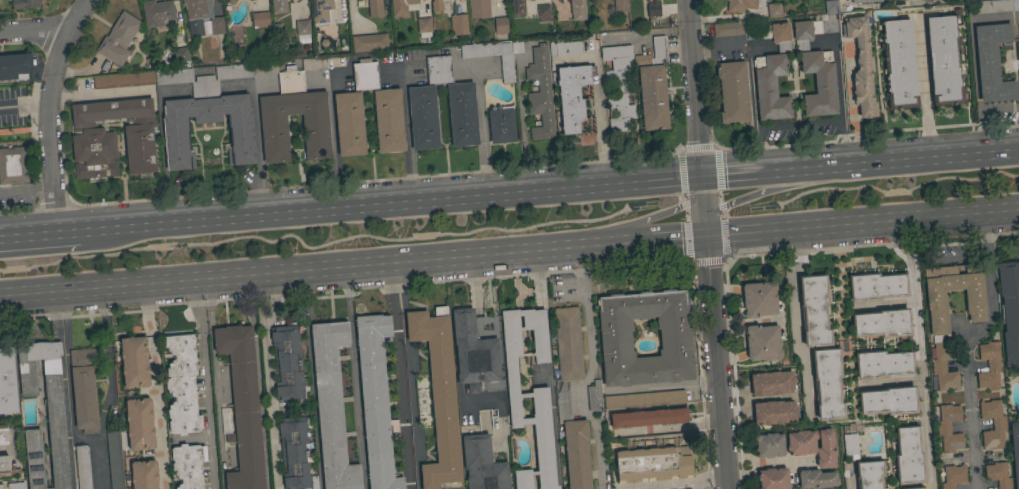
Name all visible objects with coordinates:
building: (234, 0)
building: (557, 0)
road: (922, 0)
building: (229, 1)
building: (863, 1)
building: (25, 4)
building: (437, 5)
building: (742, 5)
building: (278, 6)
building: (620, 6)
building: (992, 6)
building: (373, 7)
building: (401, 7)
building: (517, 7)
building: (197, 9)
building: (479, 9)
building: (653, 9)
building: (320, 10)
building: (578, 10)
building: (774, 10)
building: (543, 12)
building: (156, 13)
building: (259, 19)
building: (216, 25)
building: (458, 25)
building: (1018, 25)
building: (500, 26)
building: (424, 27)
building: (196, 28)
road: (33, 29)
building: (728, 29)
building: (302, 31)
building: (118, 35)
building: (369, 43)
building: (564, 48)
building: (181, 55)
building: (944, 60)
building: (818, 62)
building: (992, 63)
building: (899, 64)
building: (14, 66)
building: (861, 66)
building: (264, 68)
building: (507, 71)
building: (771, 72)
building: (365, 75)
building: (1018, 76)
building: (204, 78)
building: (122, 80)
building: (618, 86)
building: (653, 86)
road: (695, 89)
road: (924, 91)
building: (733, 92)
building: (540, 93)
building: (572, 96)
building: (292, 105)
road: (839, 105)
road: (23, 106)
road: (999, 109)
road: (47, 110)
road: (598, 113)
building: (462, 116)
road: (520, 119)
building: (388, 121)
building: (349, 124)
building: (501, 125)
road: (406, 133)
road: (982, 135)
building: (112, 138)
building: (175, 138)
road: (334, 140)
road: (258, 148)
road: (162, 156)
building: (13, 165)
road: (860, 168)
traffic signals: (701, 179)
road: (748, 197)
road: (389, 204)
road: (703, 212)
road: (635, 223)
road: (862, 230)
road: (38, 231)
traffic signals: (706, 245)
road: (939, 257)
road: (352, 270)
building: (876, 287)
building: (974, 299)
building: (759, 300)
road: (209, 305)
building: (814, 310)
building: (1009, 310)
road: (795, 317)
building: (882, 324)
building: (675, 340)
building: (763, 343)
road: (966, 348)
building: (473, 352)
road: (918, 353)
building: (134, 362)
building: (288, 363)
building: (882, 364)
road: (716, 366)
road: (587, 370)
building: (944, 372)
road: (548, 373)
building: (990, 374)
road: (408, 377)
road: (354, 380)
building: (7, 382)
building: (770, 383)
building: (827, 384)
building: (181, 385)
road: (204, 385)
road: (664, 386)
building: (84, 388)
road: (154, 388)
road: (109, 389)
road: (65, 390)
building: (529, 394)
building: (438, 396)
building: (594, 396)
building: (644, 399)
building: (563, 400)
building: (376, 401)
building: (888, 401)
building: (243, 406)
building: (331, 406)
road: (216, 408)
building: (773, 412)
building: (55, 413)
building: (647, 418)
building: (139, 424)
building: (997, 425)
road: (671, 428)
building: (949, 428)
building: (3, 435)
building: (769, 445)
building: (850, 445)
building: (813, 446)
road: (4, 449)
building: (1015, 451)
building: (294, 452)
building: (908, 456)
building: (114, 460)
road: (780, 462)
building: (482, 464)
road: (753, 464)
building: (188, 465)
building: (653, 465)
building: (7, 467)
building: (82, 467)
building: (869, 474)
building: (996, 474)
building: (143, 475)
building: (954, 476)
building: (773, 478)
building: (817, 479)
road: (849, 481)
road: (677, 483)
building: (15, 485)
building: (913, 487)

